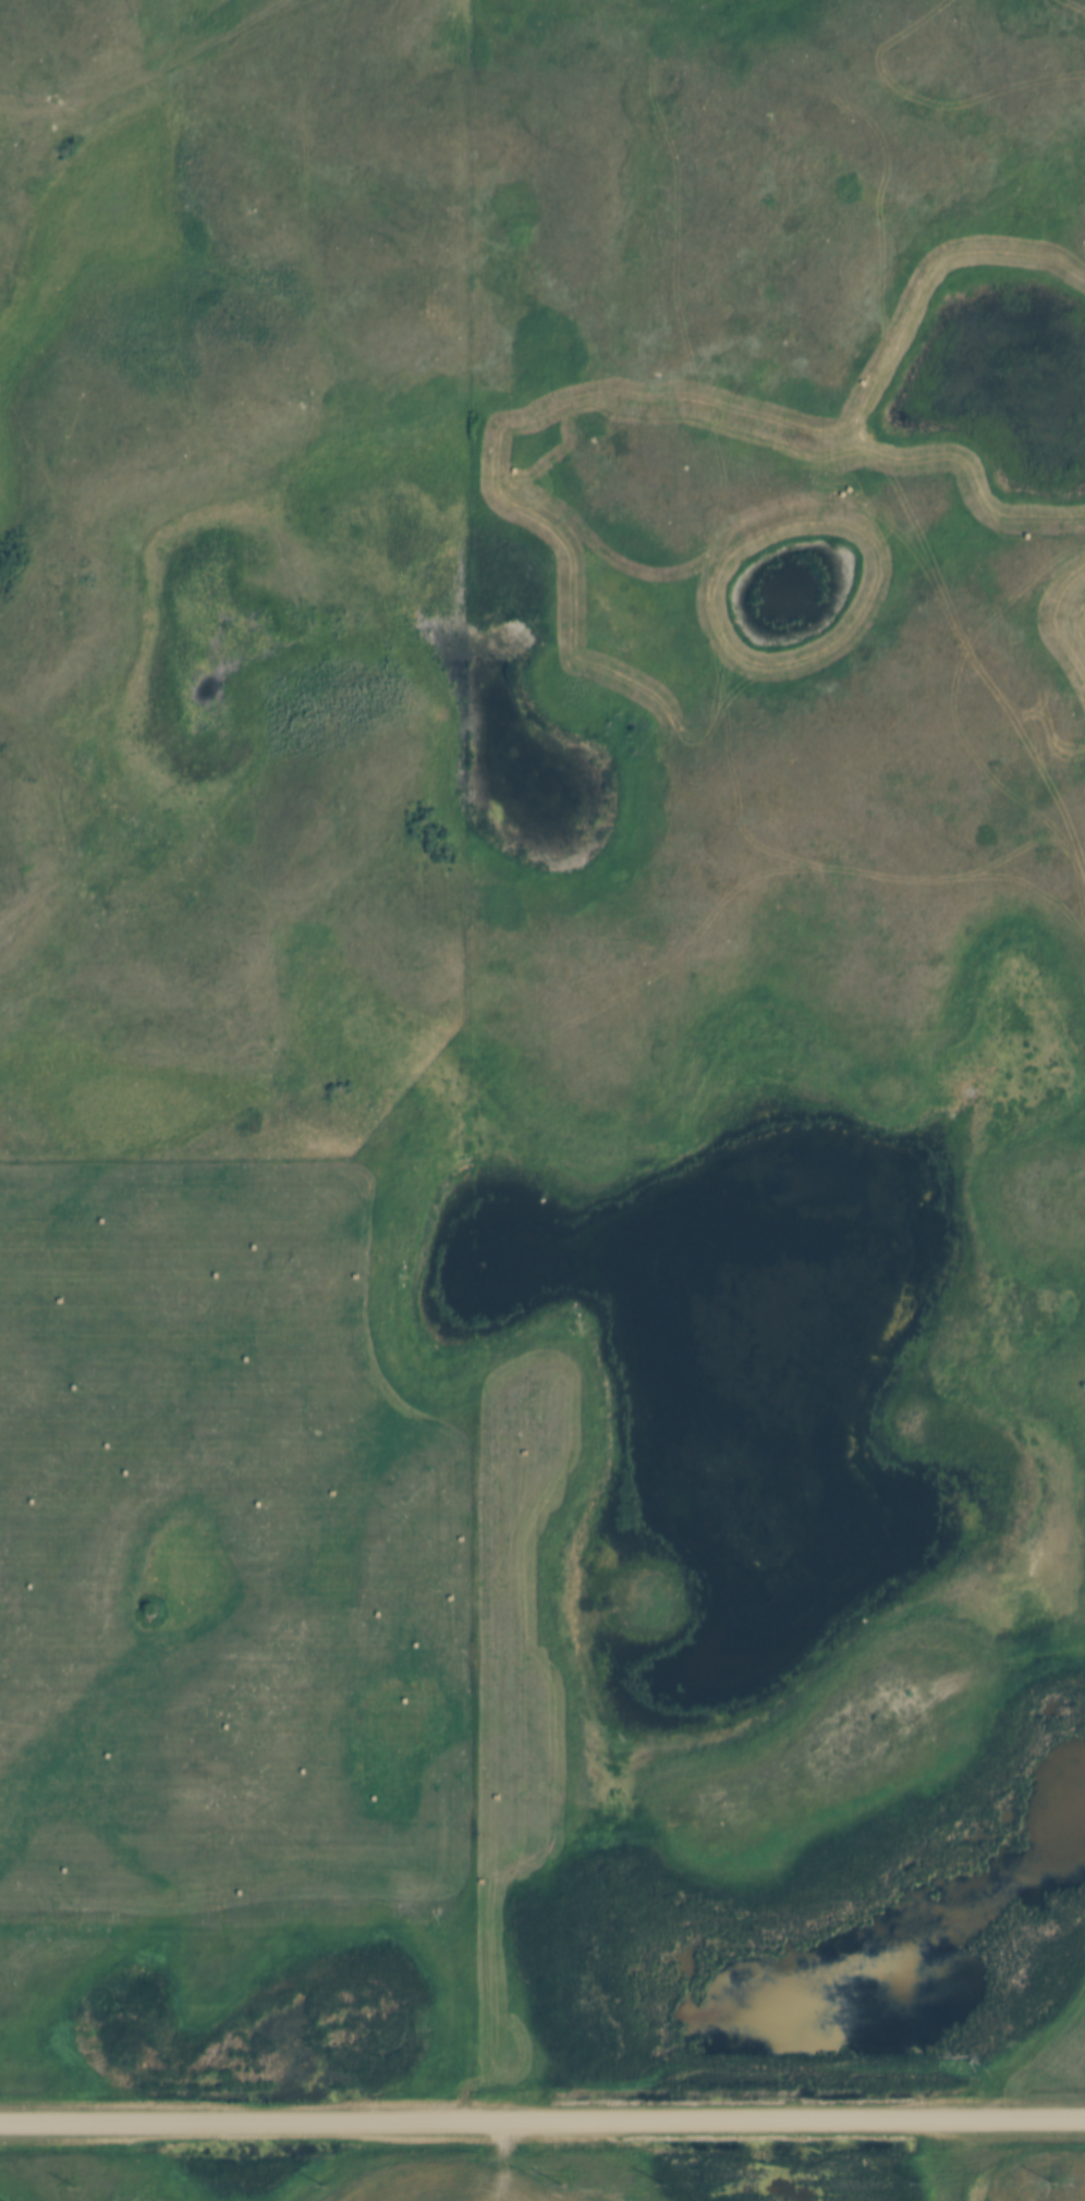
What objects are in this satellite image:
road: (541, 2120)

